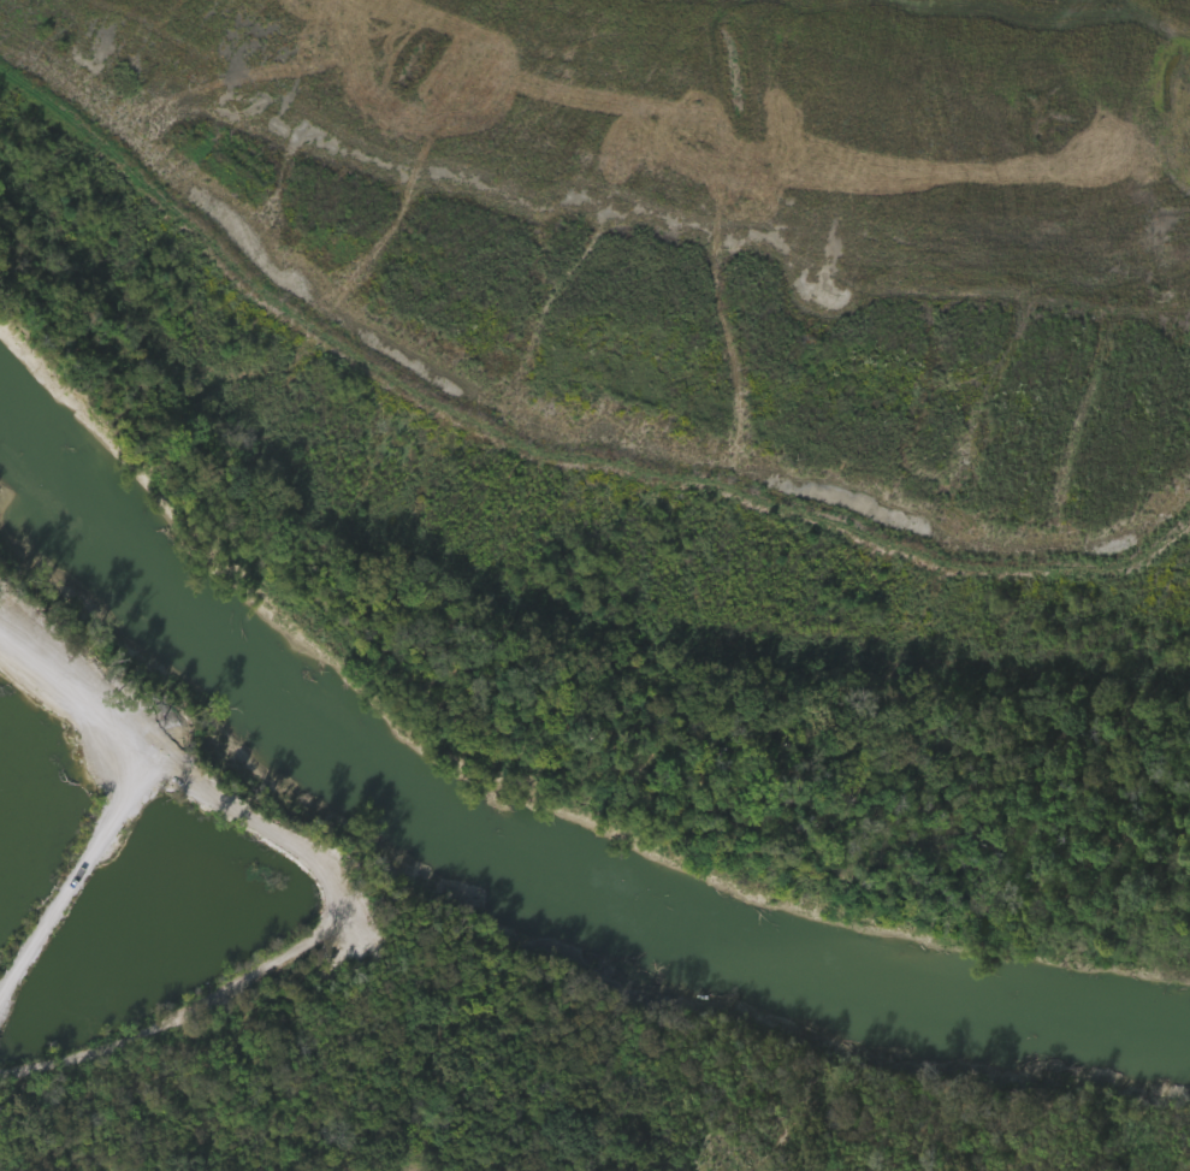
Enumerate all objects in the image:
dam: (772, 621)
river: (531, 821)

